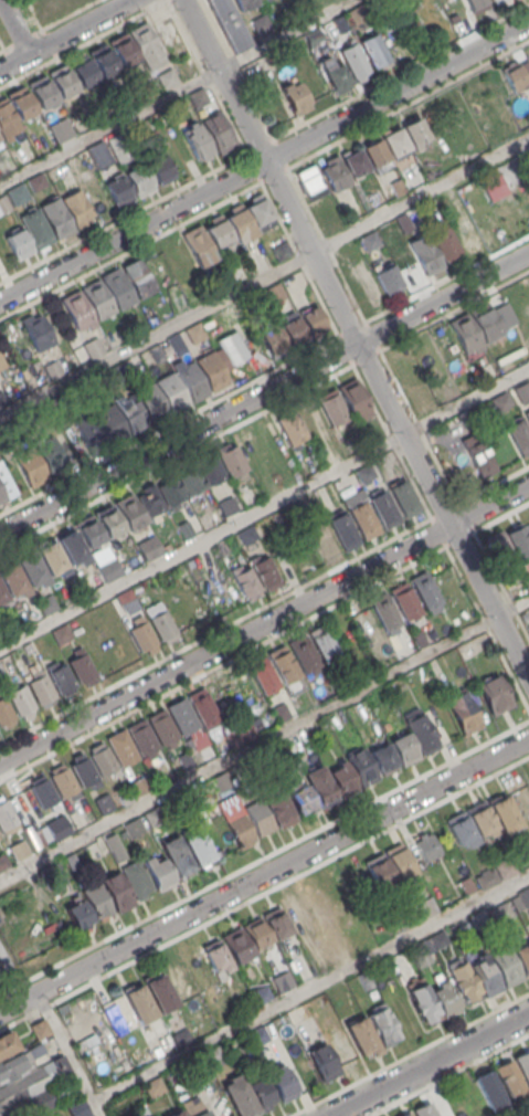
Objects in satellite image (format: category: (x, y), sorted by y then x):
road: (125, 1)
building: (496, 1)
building: (474, 2)
building: (245, 3)
building: (56, 9)
building: (355, 13)
building: (338, 23)
building: (230, 24)
building: (261, 24)
road: (13, 27)
road: (65, 34)
building: (316, 41)
building: (146, 44)
building: (123, 50)
building: (373, 50)
building: (103, 60)
building: (352, 60)
building: (83, 71)
building: (514, 75)
building: (336, 77)
building: (167, 78)
building: (62, 81)
building: (144, 91)
building: (41, 93)
road: (176, 93)
building: (294, 95)
building: (197, 97)
building: (20, 103)
road: (331, 107)
building: (7, 118)
building: (137, 128)
building: (61, 129)
building: (219, 131)
building: (414, 131)
building: (0, 137)
building: (197, 140)
building: (394, 141)
building: (120, 146)
building: (98, 154)
building: (377, 155)
road: (264, 161)
building: (353, 162)
building: (159, 169)
building: (335, 175)
building: (38, 181)
building: (139, 181)
building: (309, 181)
building: (396, 186)
building: (118, 191)
building: (18, 194)
building: (3, 204)
building: (77, 208)
building: (260, 214)
building: (56, 218)
building: (404, 223)
building: (239, 225)
building: (36, 228)
building: (216, 232)
building: (466, 233)
building: (370, 241)
building: (446, 243)
building: (18, 244)
building: (199, 245)
building: (279, 250)
building: (425, 254)
road: (264, 276)
building: (138, 278)
building: (388, 280)
building: (118, 289)
building: (273, 293)
building: (98, 298)
building: (76, 310)
building: (314, 322)
building: (486, 323)
building: (294, 330)
building: (36, 331)
building: (194, 333)
building: (466, 333)
building: (273, 339)
road: (356, 340)
building: (177, 344)
building: (93, 347)
building: (231, 348)
building: (157, 352)
building: (53, 369)
building: (210, 372)
building: (112, 375)
building: (191, 380)
building: (171, 391)
building: (522, 391)
road: (264, 393)
building: (352, 398)
building: (2, 400)
building: (423, 400)
building: (500, 401)
building: (150, 402)
building: (332, 408)
building: (130, 413)
building: (527, 417)
building: (110, 423)
building: (292, 428)
building: (92, 433)
building: (519, 435)
building: (479, 457)
building: (232, 461)
building: (31, 467)
building: (210, 467)
building: (364, 473)
building: (190, 477)
building: (169, 487)
building: (1, 495)
building: (403, 497)
building: (150, 501)
building: (304, 504)
building: (228, 505)
road: (489, 505)
road: (264, 508)
building: (383, 508)
building: (130, 512)
building: (363, 519)
building: (109, 520)
building: (186, 528)
building: (342, 529)
building: (87, 531)
building: (247, 535)
building: (324, 540)
building: (518, 540)
building: (71, 547)
building: (149, 548)
building: (224, 548)
building: (499, 549)
building: (51, 558)
building: (31, 569)
building: (108, 569)
building: (265, 572)
building: (528, 573)
building: (11, 580)
building: (89, 582)
building: (247, 582)
building: (425, 591)
building: (2, 594)
building: (127, 601)
building: (404, 601)
building: (46, 604)
building: (384, 612)
building: (160, 621)
building: (363, 622)
building: (61, 633)
building: (142, 635)
building: (420, 639)
building: (324, 642)
road: (225, 644)
building: (304, 653)
building: (283, 664)
building: (81, 667)
building: (264, 675)
building: (61, 677)
building: (40, 688)
building: (494, 694)
building: (20, 699)
building: (203, 707)
building: (4, 710)
building: (281, 710)
building: (463, 712)
building: (182, 717)
building: (162, 727)
building: (421, 731)
building: (236, 735)
building: (142, 737)
road: (264, 740)
building: (200, 741)
building: (121, 747)
building: (404, 748)
building: (279, 751)
building: (102, 759)
building: (187, 759)
building: (383, 759)
building: (361, 766)
building: (82, 770)
building: (343, 779)
building: (63, 780)
building: (139, 785)
building: (320, 786)
building: (42, 791)
building: (303, 801)
building: (103, 803)
building: (279, 807)
building: (257, 813)
building: (6, 814)
building: (504, 815)
building: (152, 817)
building: (482, 819)
building: (239, 825)
building: (56, 827)
building: (134, 827)
building: (459, 828)
building: (425, 845)
building: (115, 846)
building: (198, 846)
building: (18, 849)
building: (177, 856)
building: (522, 857)
building: (3, 860)
building: (71, 861)
building: (400, 862)
building: (505, 866)
building: (381, 871)
building: (160, 874)
building: (52, 875)
road: (264, 875)
building: (137, 878)
building: (486, 878)
building: (466, 885)
building: (117, 891)
building: (520, 899)
building: (96, 902)
building: (325, 906)
building: (423, 907)
building: (501, 910)
building: (78, 914)
building: (405, 918)
building: (478, 919)
building: (276, 923)
building: (256, 934)
building: (438, 939)
building: (237, 945)
building: (420, 954)
building: (522, 956)
building: (218, 957)
building: (321, 962)
building: (505, 965)
road: (13, 973)
building: (485, 976)
building: (364, 980)
building: (283, 981)
building: (464, 982)
road: (311, 989)
building: (160, 993)
building: (262, 994)
building: (445, 1000)
building: (423, 1001)
building: (139, 1003)
building: (382, 1024)
building: (40, 1028)
building: (361, 1035)
building: (181, 1038)
building: (7, 1043)
road: (68, 1054)
building: (214, 1056)
building: (324, 1062)
building: (523, 1064)
building: (11, 1065)
road: (431, 1065)
building: (510, 1077)
building: (282, 1084)
building: (152, 1087)
building: (32, 1089)
building: (489, 1089)
building: (262, 1093)
building: (240, 1097)
building: (77, 1108)
building: (194, 1108)
building: (424, 1110)
building: (141, 1112)
building: (176, 1113)
building: (406, 1114)

